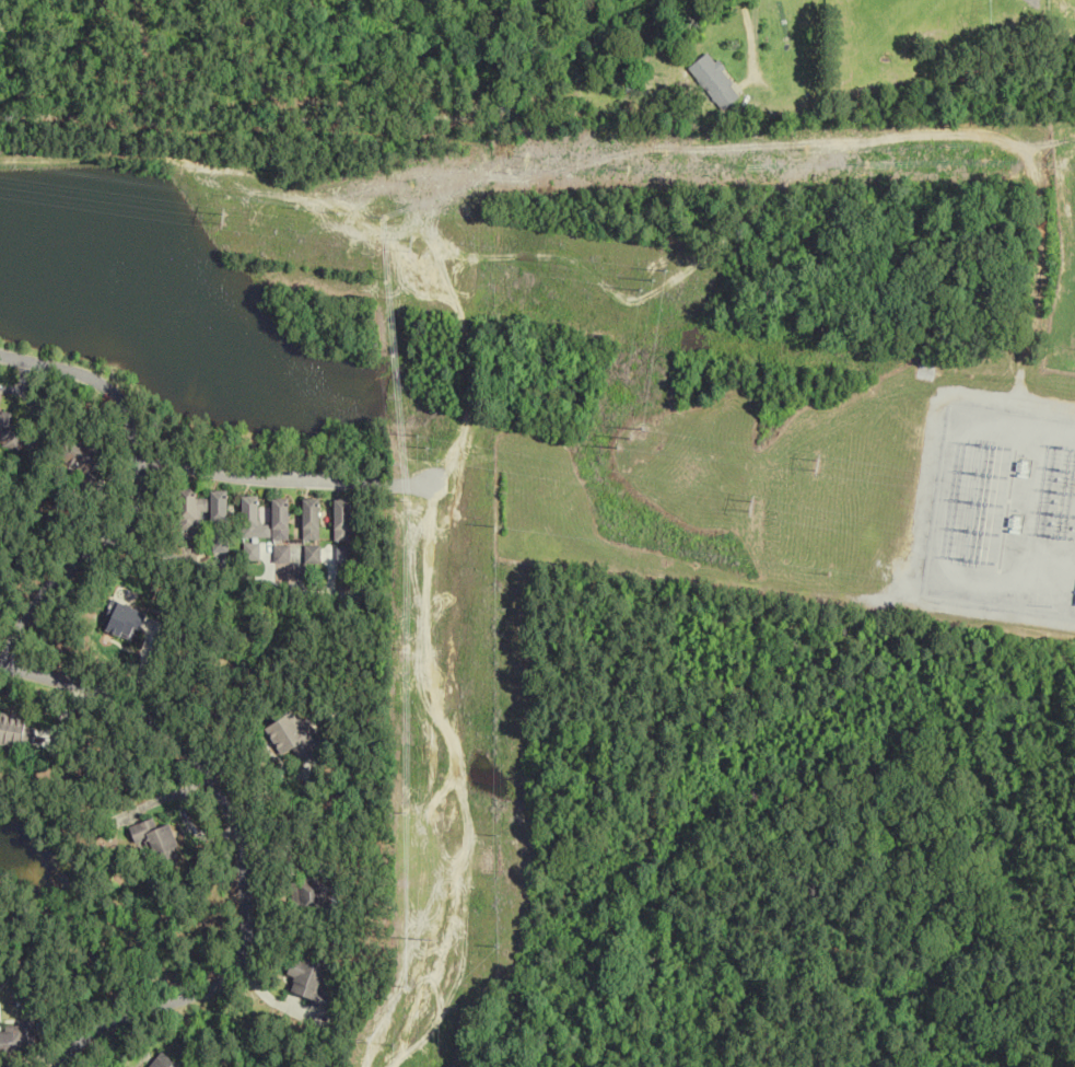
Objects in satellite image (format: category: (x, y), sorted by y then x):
road: (743, 35)
building: (714, 82)
building: (9, 432)
power tower: (423, 446)
building: (85, 459)
road: (284, 479)
road: (139, 495)
power tower: (749, 501)
power substation: (1003, 501)
building: (190, 518)
building: (280, 519)
building: (311, 519)
building: (253, 520)
building: (343, 520)
building: (219, 521)
building: (249, 552)
building: (280, 554)
building: (311, 555)
building: (342, 555)
building: (1074, 595)
building: (127, 623)
building: (16, 732)
building: (291, 733)
building: (159, 842)
road: (246, 849)
building: (315, 892)
power tower: (430, 939)
building: (312, 982)
building: (19, 1039)
building: (165, 1062)

